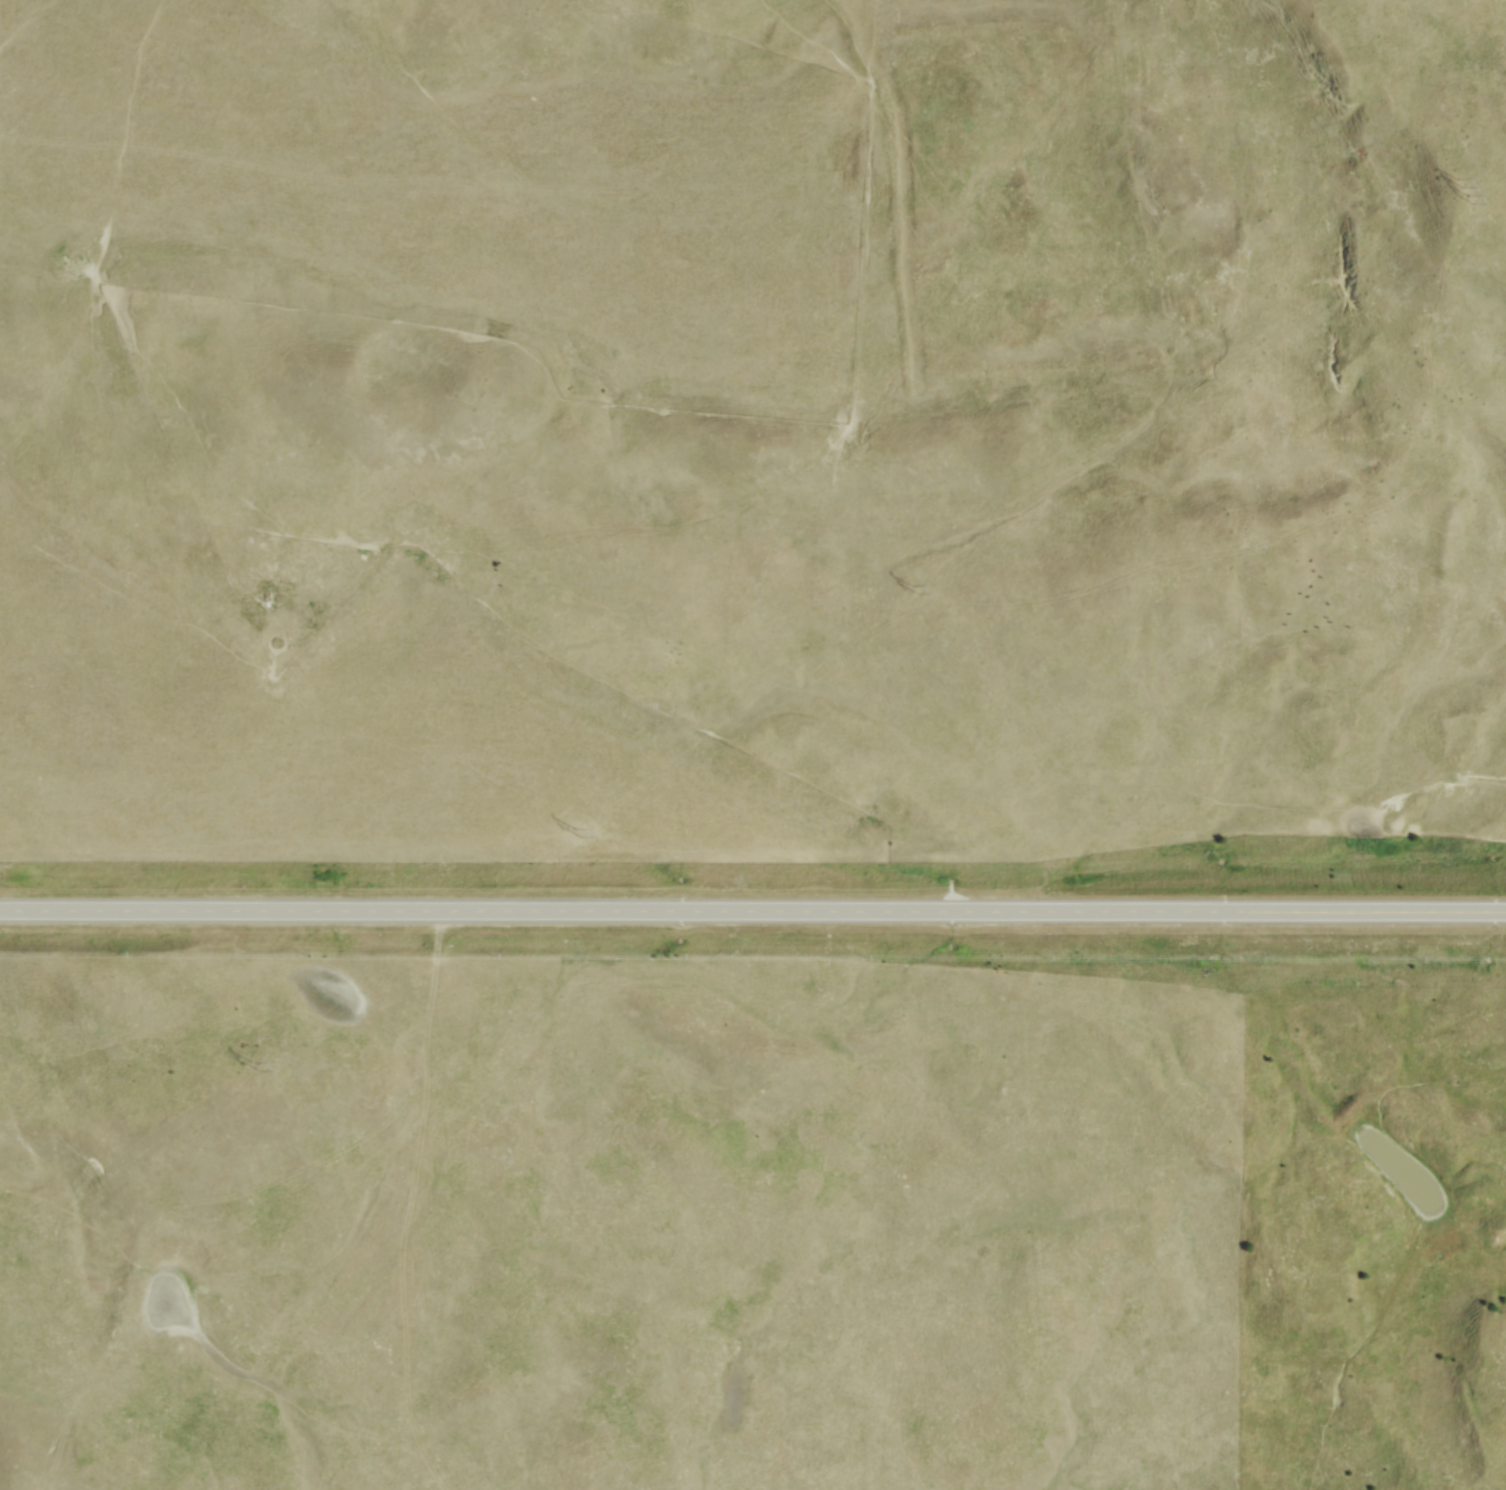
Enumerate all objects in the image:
power tower: (1464, 198)
power tower: (913, 591)
power tower: (577, 835)
road: (753, 910)
power tower: (255, 1069)

